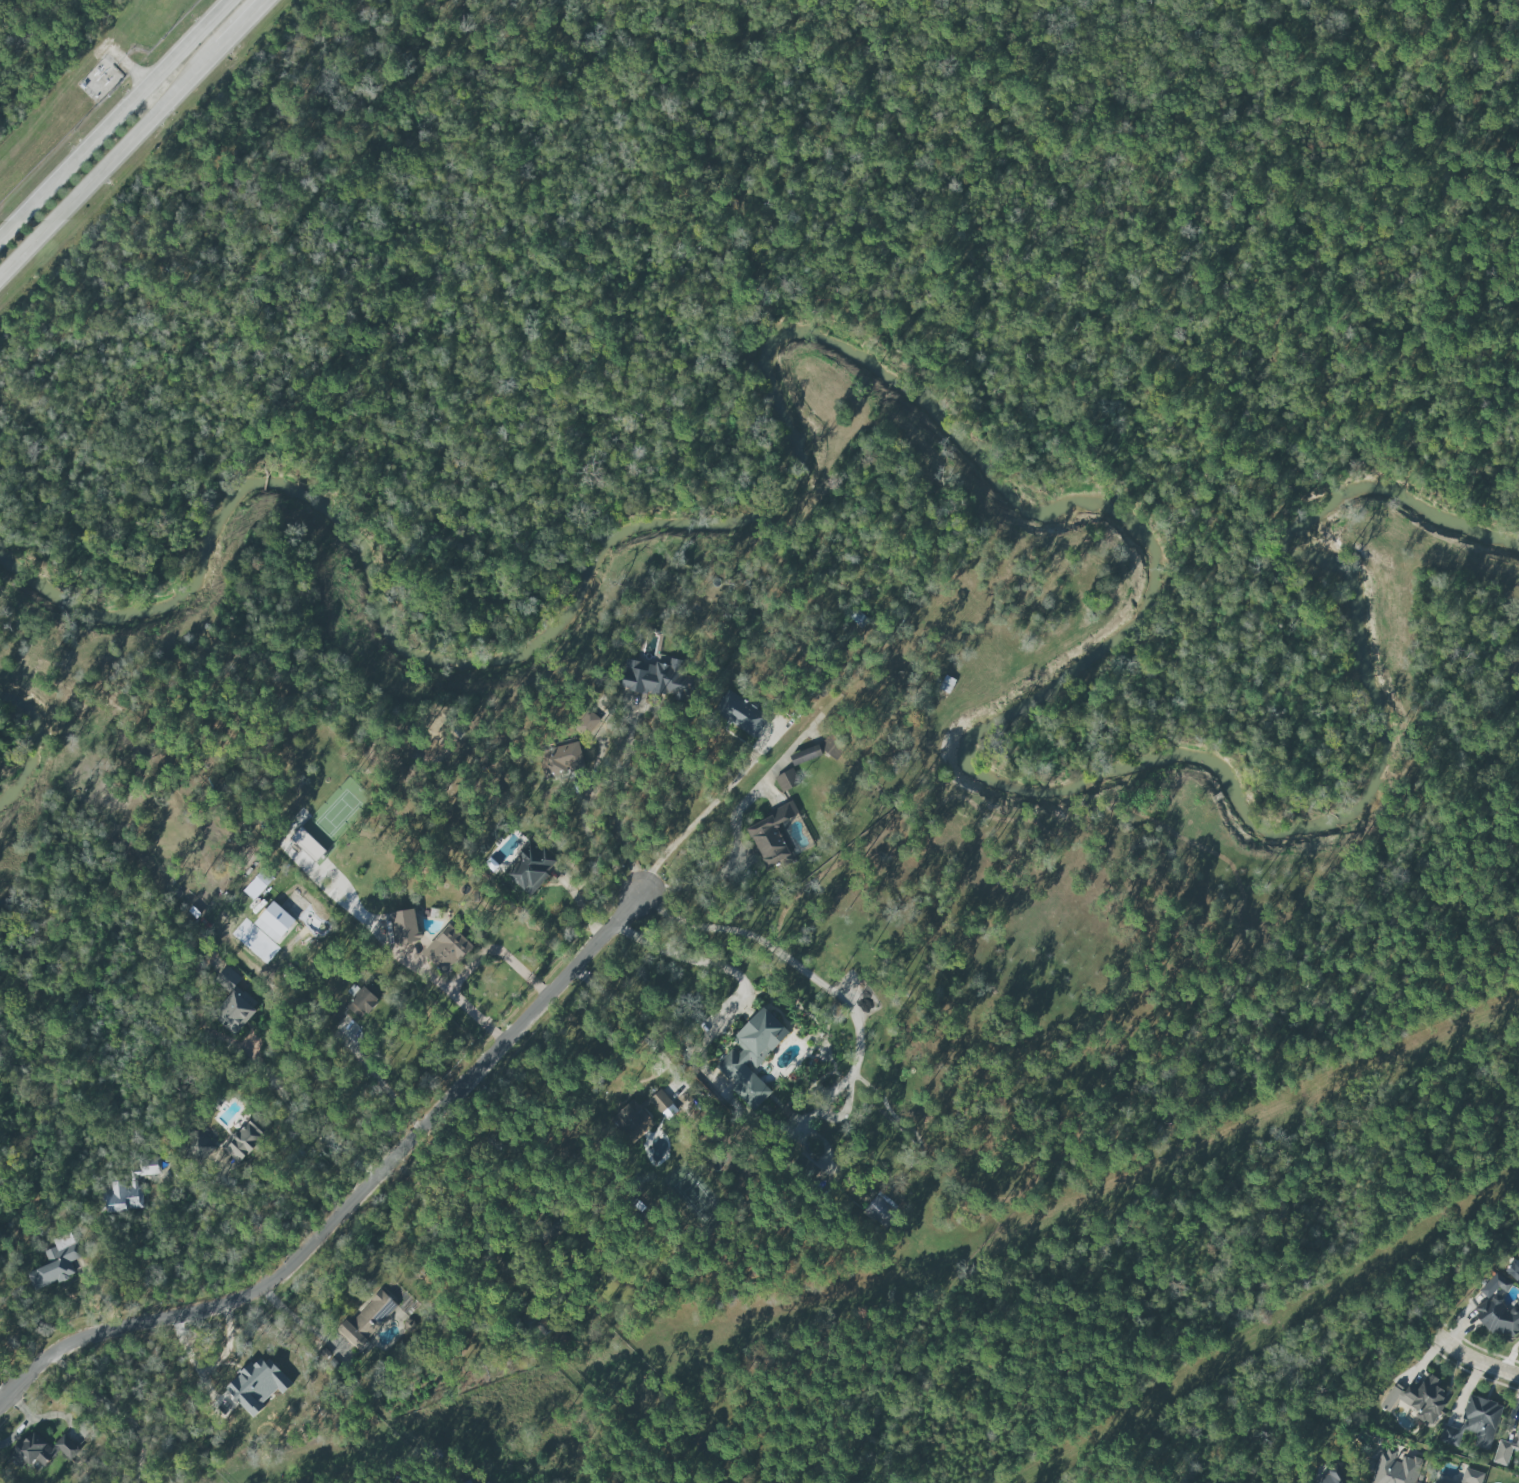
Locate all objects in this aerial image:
road: (15, 9)
road: (241, 24)
road: (121, 68)
road: (110, 113)
road: (110, 163)
river: (993, 502)
building: (656, 678)
building: (740, 713)
building: (589, 722)
river: (32, 748)
building: (805, 755)
building: (786, 780)
road: (710, 805)
road: (615, 806)
building: (771, 835)
building: (307, 844)
building: (530, 868)
road: (733, 870)
building: (274, 922)
building: (405, 926)
building: (447, 949)
road: (693, 958)
road: (467, 966)
road: (802, 970)
building: (362, 1003)
building: (234, 1011)
road: (626, 1017)
building: (752, 1056)
road: (383, 1089)
building: (663, 1104)
road: (313, 1133)
building: (243, 1141)
building: (197, 1149)
building: (145, 1168)
building: (124, 1196)
road: (349, 1200)
building: (881, 1210)
road: (233, 1219)
road: (258, 1220)
building: (56, 1263)
building: (1500, 1282)
building: (1498, 1317)
building: (367, 1319)
road: (301, 1323)
road: (1474, 1359)
building: (258, 1385)
building: (1418, 1398)
road: (116, 1410)
building: (1480, 1421)
building: (67, 1447)
building: (32, 1450)
building: (1505, 1450)
building: (1395, 1468)
building: (1472, 1476)
building: (1330, 1477)
building: (486, 1482)
building: (1434, 1482)

